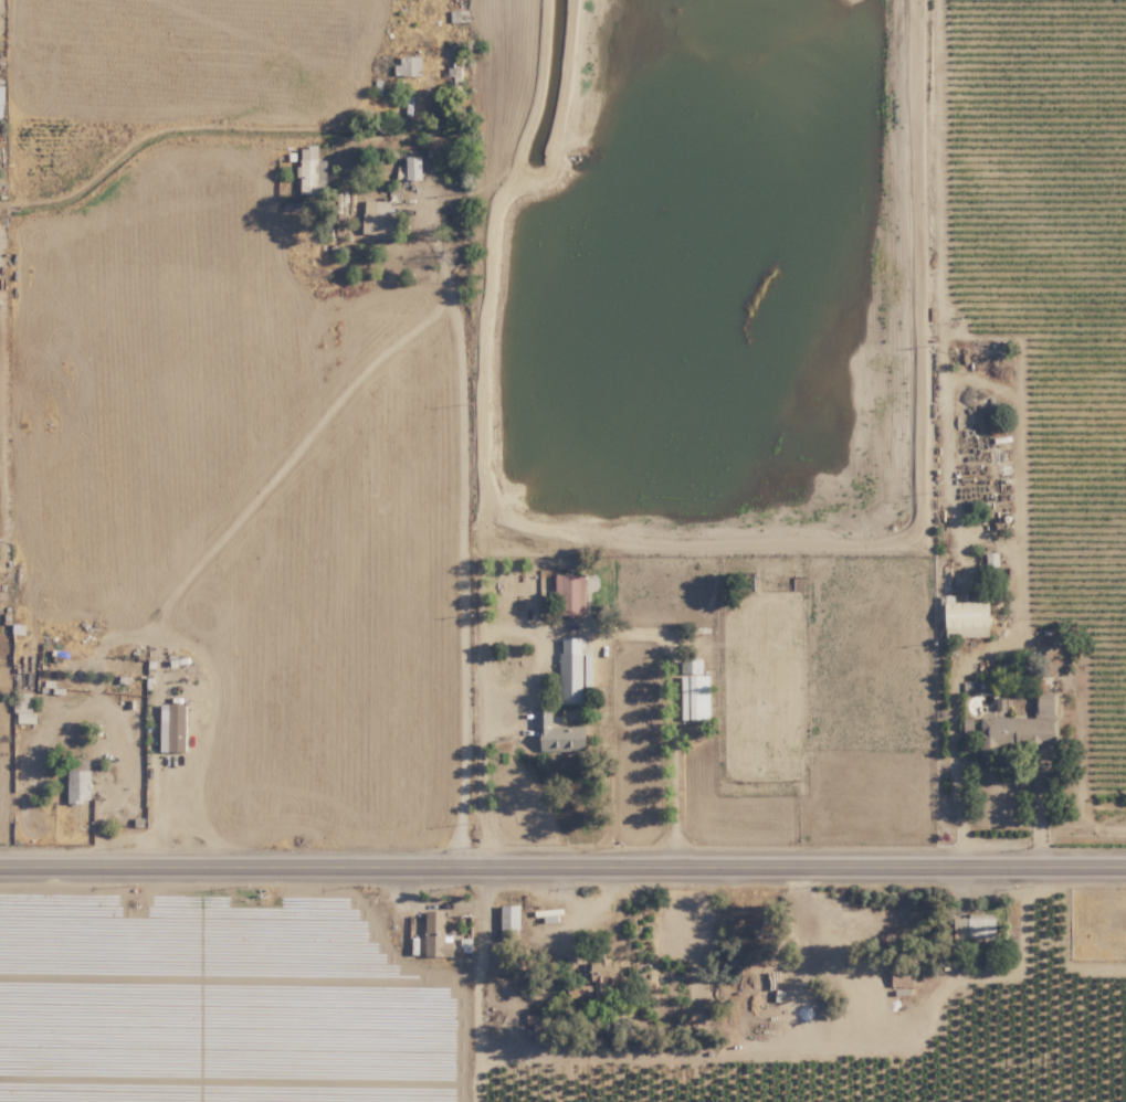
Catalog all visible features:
building: (408, 65)
building: (1, 93)
building: (411, 168)
building: (308, 169)
building: (378, 218)
crop: (291, 354)
road: (1017, 501)
road: (461, 527)
building: (571, 594)
building: (968, 619)
building: (571, 670)
building: (695, 691)
road: (159, 692)
building: (23, 708)
road: (485, 718)
building: (176, 725)
building: (1014, 729)
building: (559, 733)
road: (127, 760)
building: (78, 781)
road: (98, 785)
road: (562, 860)
building: (509, 921)
road: (576, 923)
building: (976, 924)
building: (436, 934)
building: (596, 979)
crop: (638, 996)
crop: (958, 1003)
road: (730, 1045)

